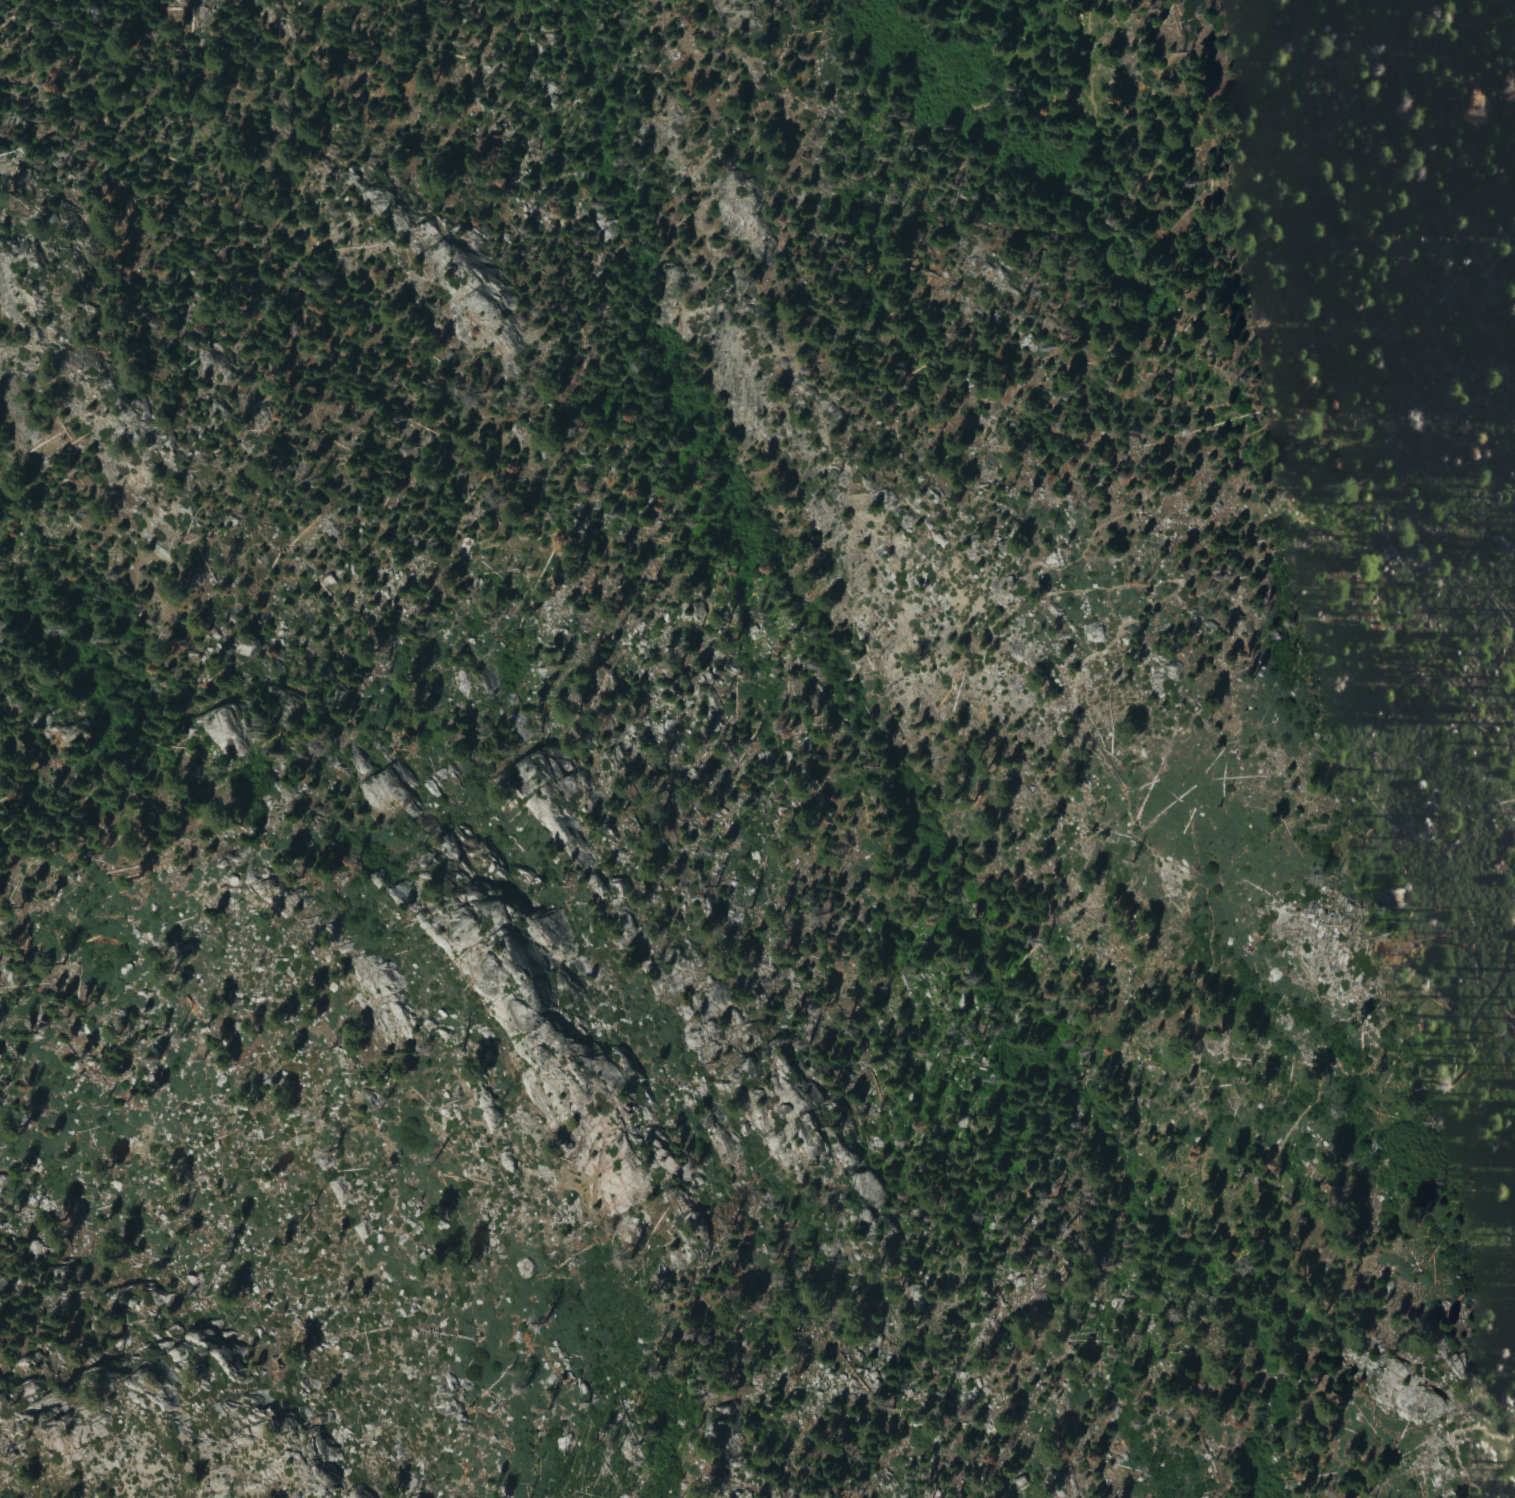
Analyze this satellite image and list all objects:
road: (1155, 603)
road: (1455, 1435)

